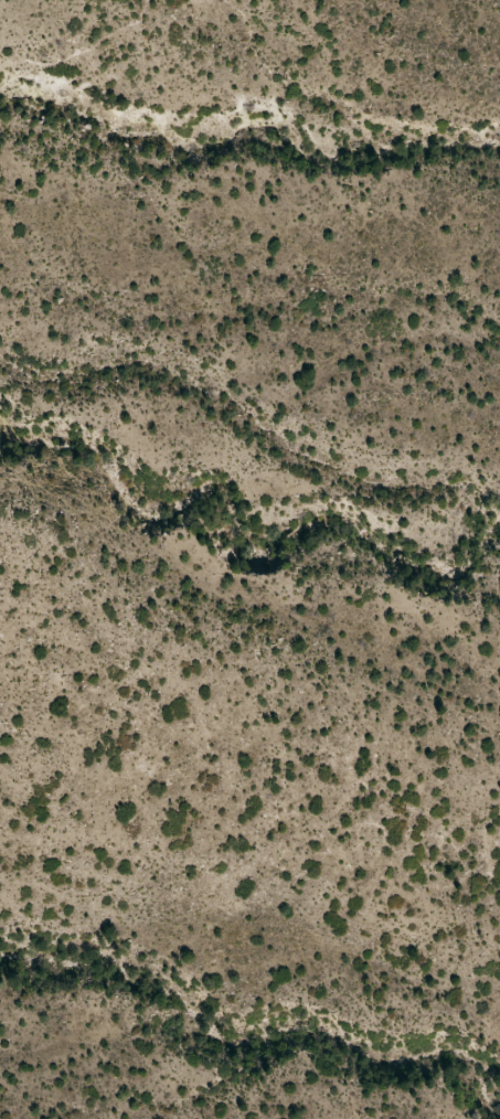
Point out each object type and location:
road: (81, 51)

